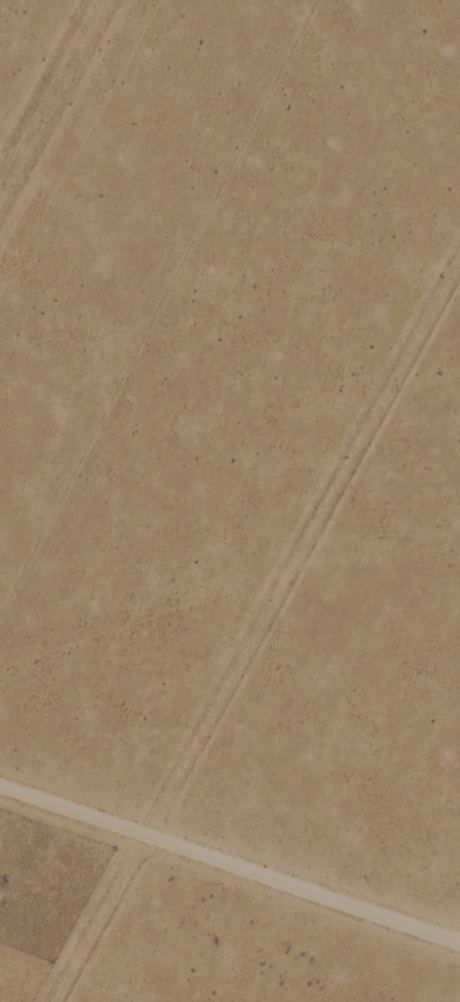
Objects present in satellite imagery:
airport runway: (50, 95)
road: (258, 635)
road: (230, 868)

